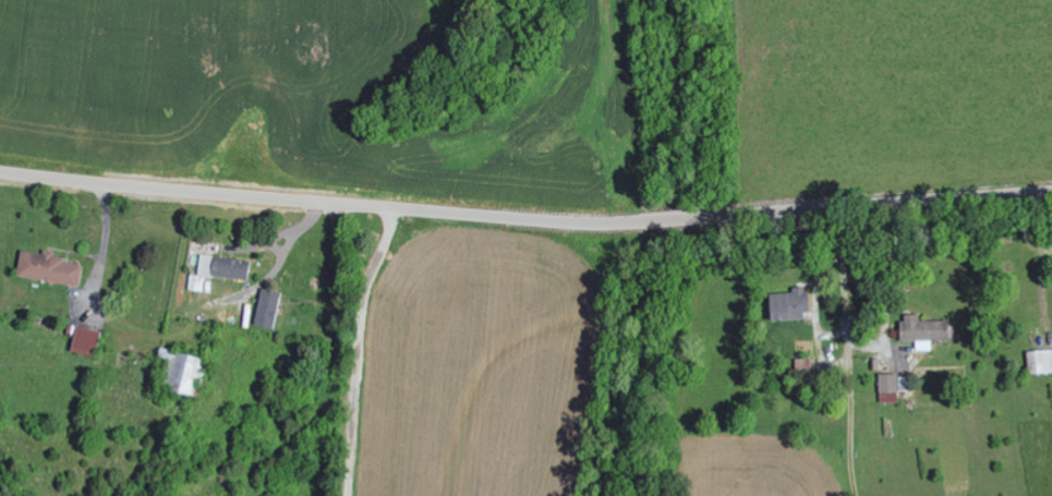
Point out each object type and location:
road: (525, 219)
building: (45, 267)
building: (216, 269)
building: (786, 303)
building: (266, 307)
building: (920, 330)
building: (82, 339)
road: (359, 349)
building: (1038, 361)
building: (179, 371)
building: (886, 387)

